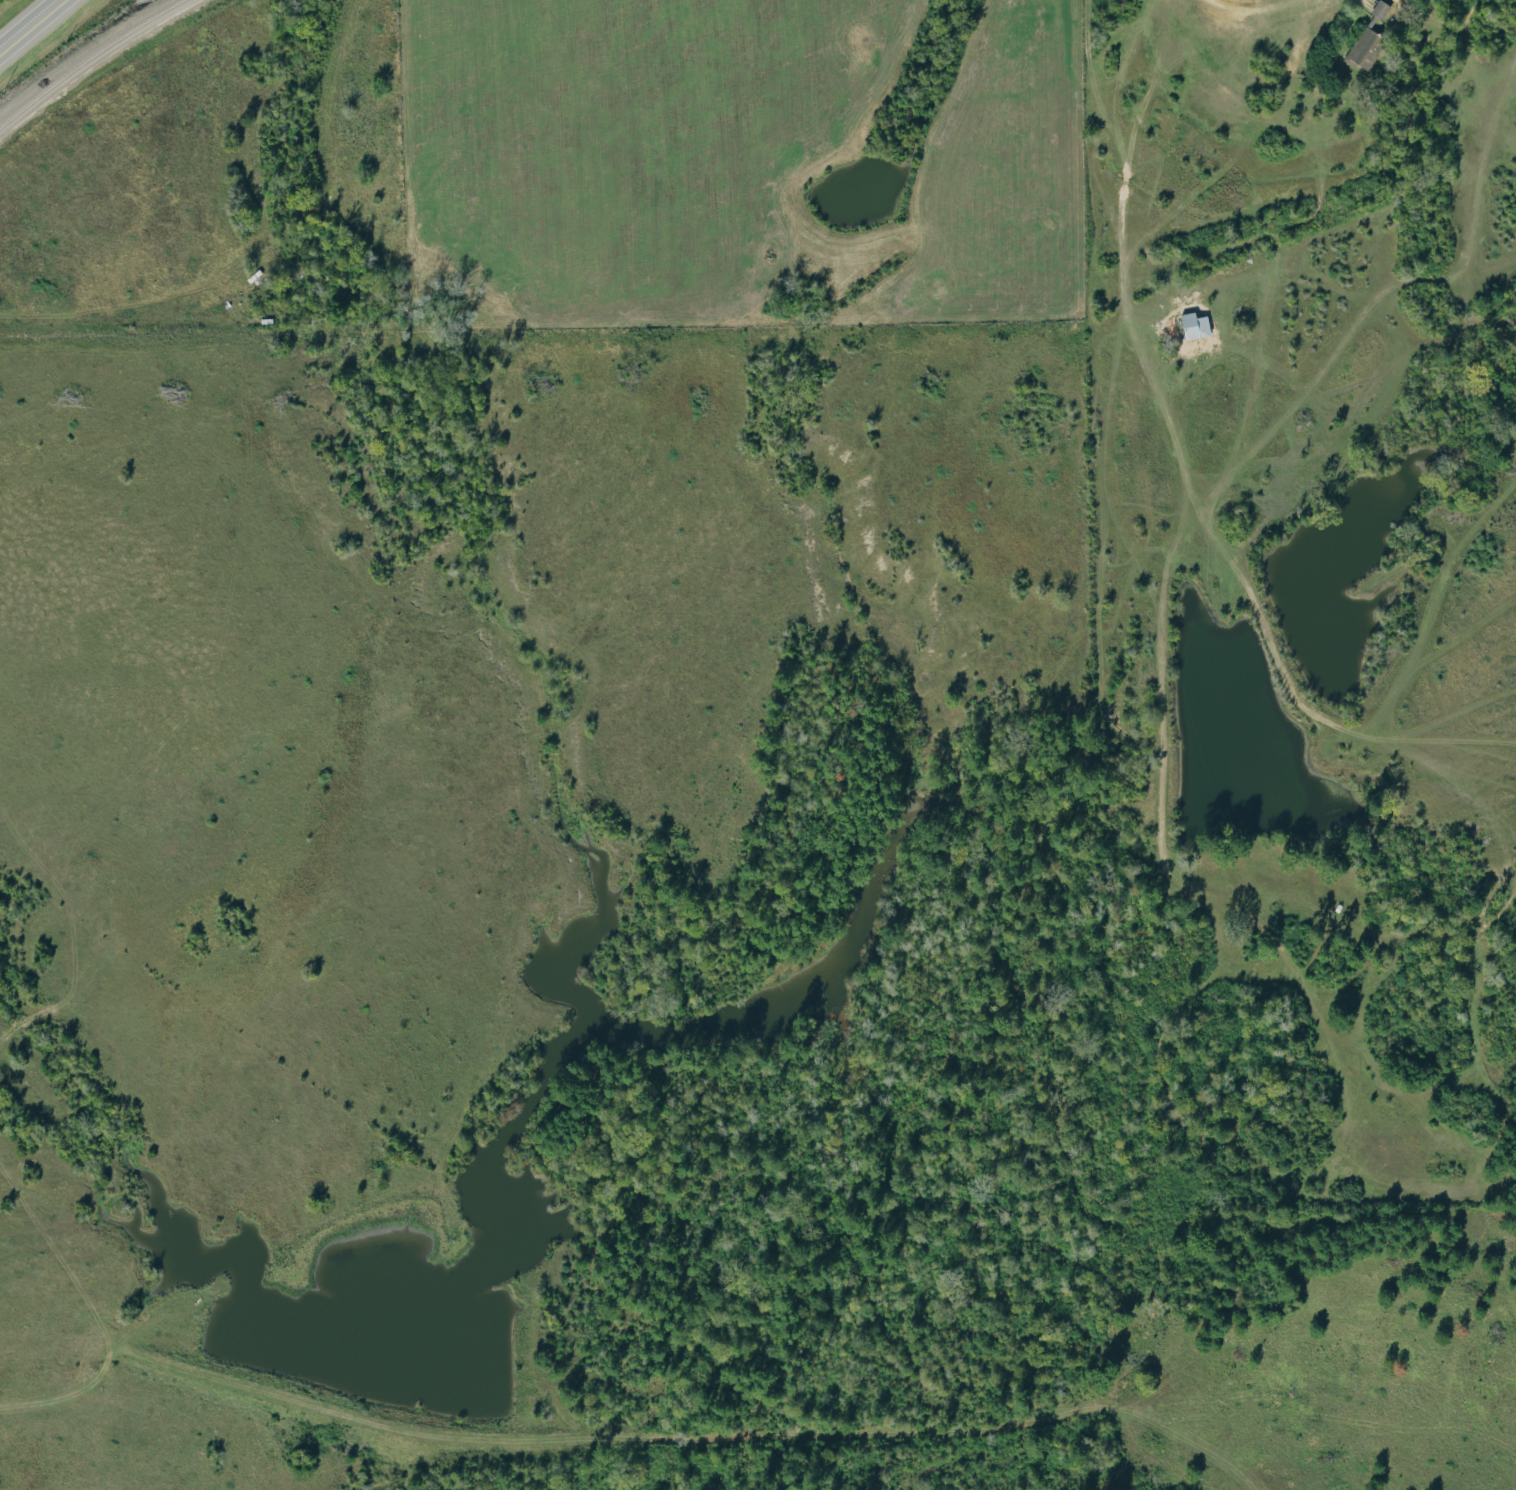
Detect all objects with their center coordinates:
building: (1381, 13)
road: (29, 24)
building: (1368, 48)
railway: (86, 63)
building: (1198, 325)

